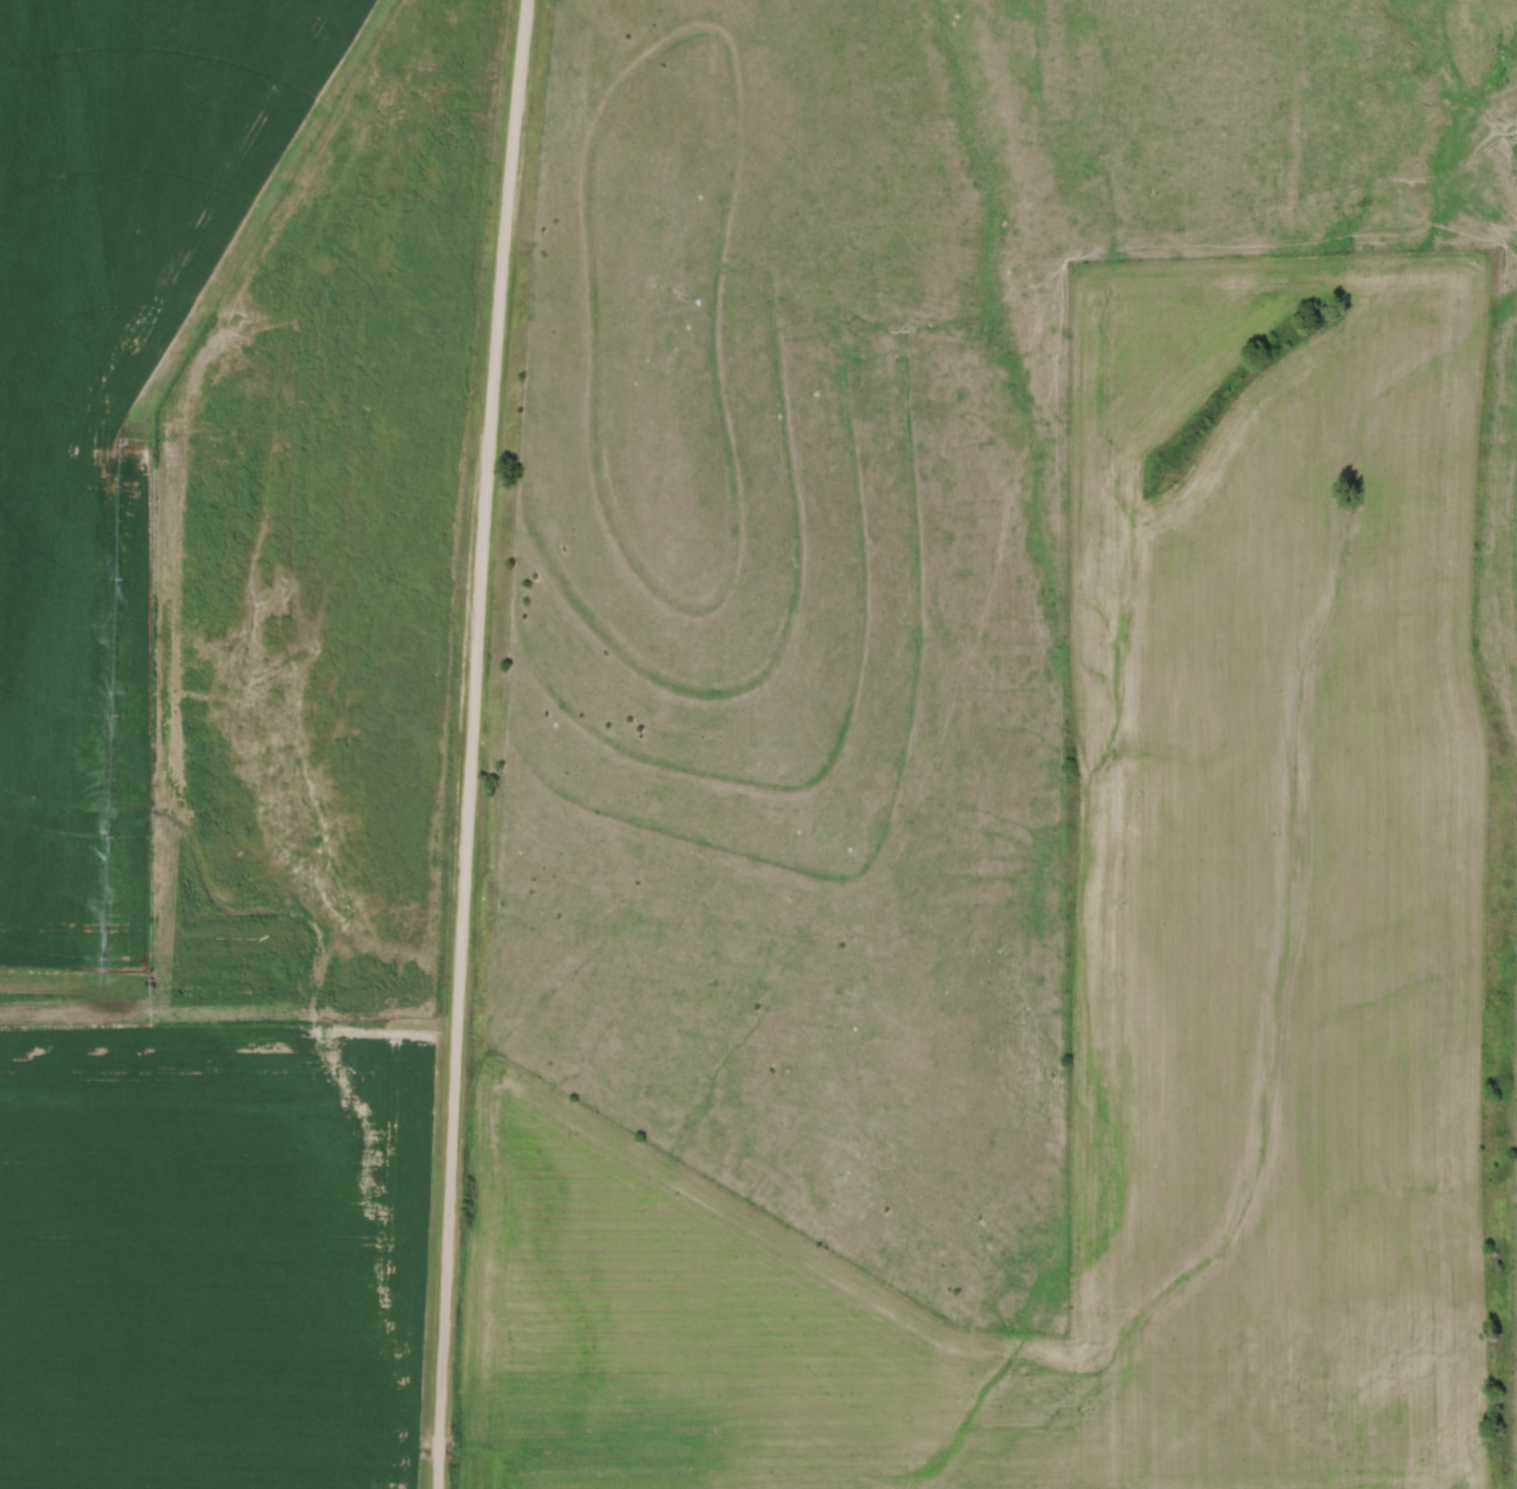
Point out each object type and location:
road: (469, 743)

